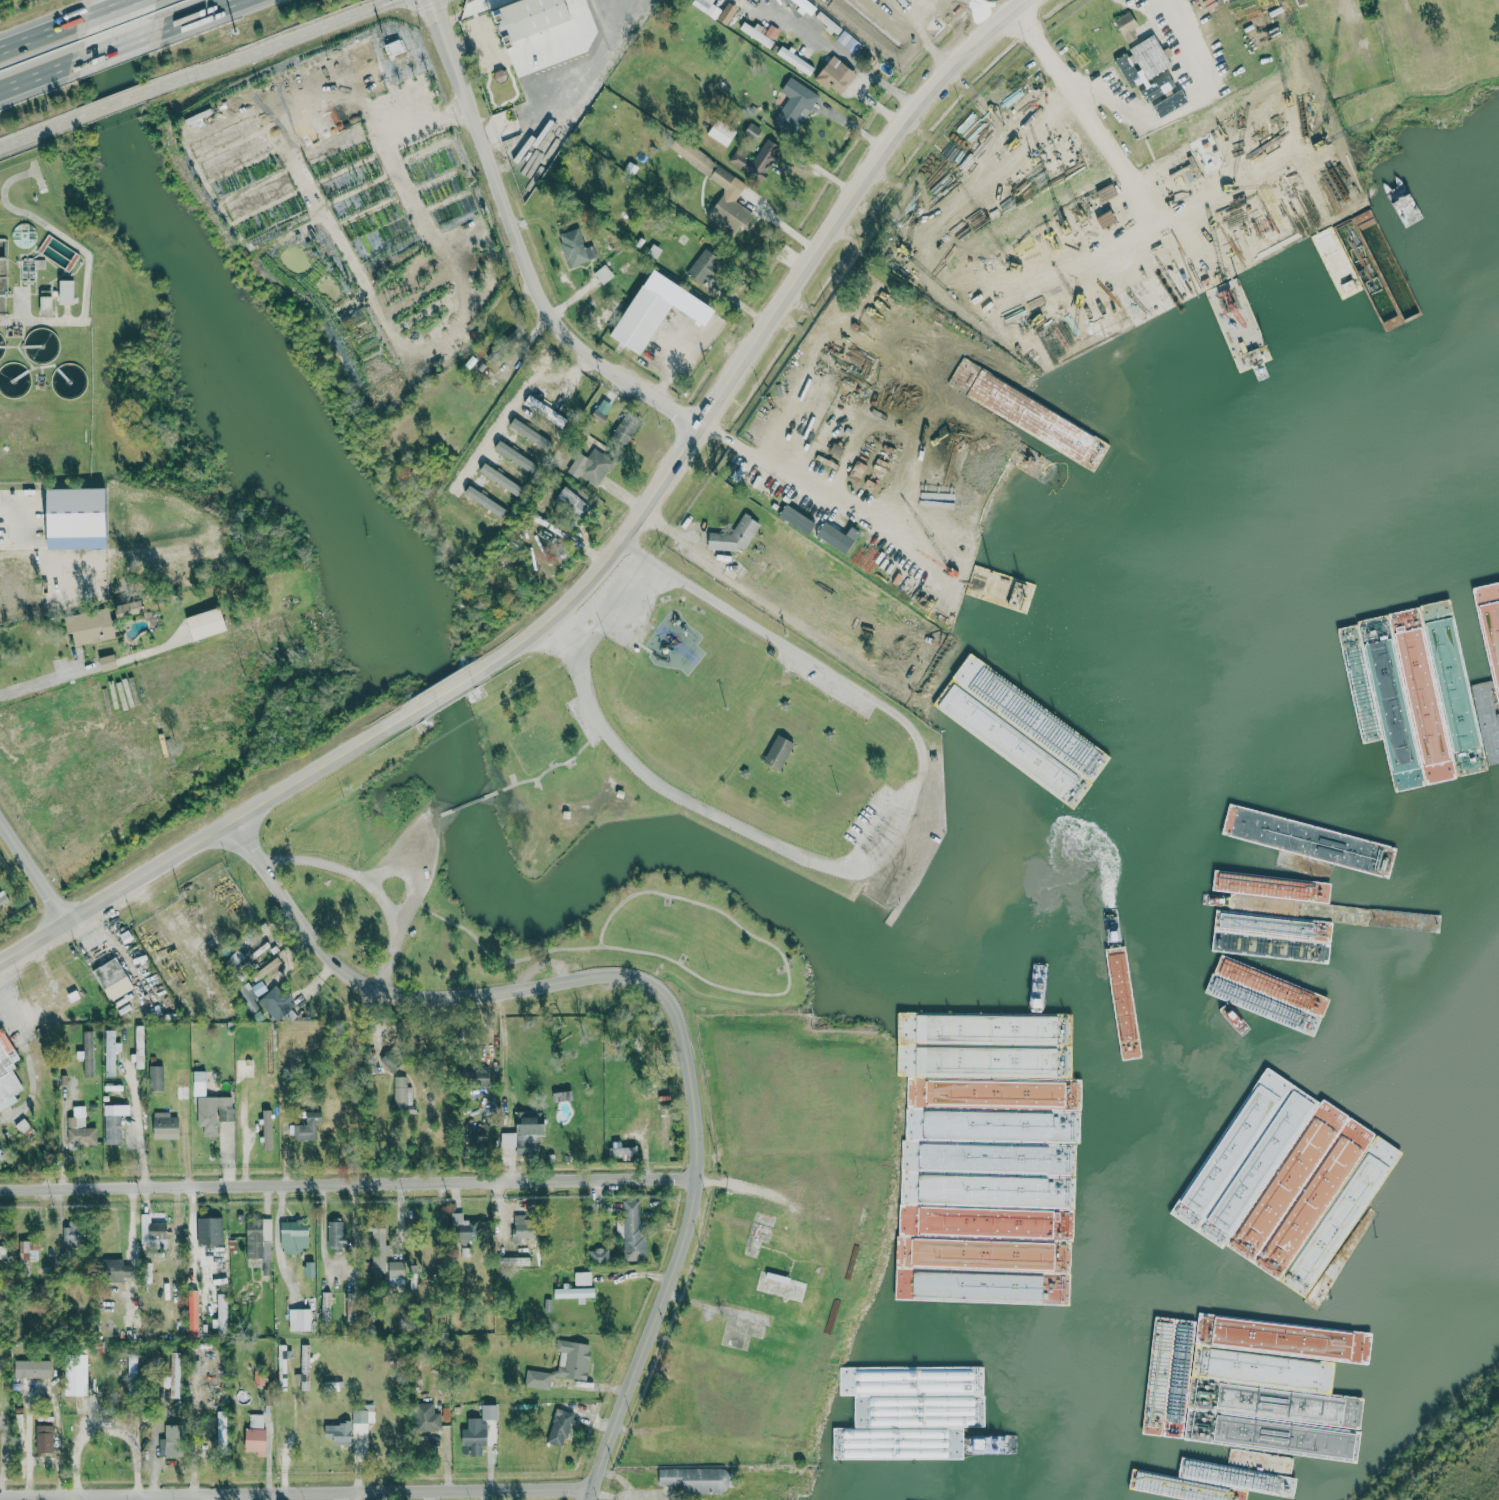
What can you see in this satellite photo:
building: (805, 6)
road: (109, 8)
building: (716, 9)
road: (193, 15)
building: (1127, 25)
road: (43, 33)
building: (760, 33)
building: (540, 34)
building: (848, 41)
road: (275, 43)
road: (116, 44)
building: (394, 46)
building: (363, 57)
road: (849, 58)
building: (795, 60)
building: (1143, 62)
road: (40, 72)
building: (836, 74)
building: (1157, 87)
building: (1162, 97)
road: (118, 101)
road: (873, 102)
building: (1170, 103)
building: (795, 106)
road: (1138, 114)
building: (753, 130)
road: (39, 131)
building: (721, 132)
road: (1109, 138)
building: (1208, 155)
building: (758, 159)
building: (734, 183)
road: (784, 226)
road: (525, 246)
building: (574, 247)
building: (704, 266)
building: (603, 273)
building: (67, 291)
building: (670, 295)
building: (47, 305)
building: (641, 319)
road: (763, 338)
building: (539, 391)
road: (518, 404)
building: (602, 410)
building: (626, 428)
building: (508, 447)
building: (591, 466)
road: (801, 481)
building: (575, 502)
building: (77, 512)
building: (797, 519)
road: (22, 534)
building: (735, 535)
building: (836, 536)
road: (606, 600)
building: (129, 608)
building: (206, 623)
building: (92, 626)
building: (108, 662)
road: (40, 678)
road: (453, 688)
building: (778, 752)
road: (540, 776)
park: (673, 776)
road: (467, 801)
road: (442, 811)
road: (210, 835)
road: (894, 842)
road: (32, 874)
road: (369, 878)
building: (3, 898)
building: (268, 968)
building: (112, 979)
building: (251, 994)
road: (674, 996)
building: (276, 1003)
building: (982, 1030)
building: (110, 1052)
building: (87, 1053)
building: (389, 1061)
building: (7, 1071)
building: (477, 1076)
building: (156, 1078)
building: (199, 1083)
building: (401, 1096)
building: (214, 1113)
road: (137, 1120)
building: (114, 1123)
building: (530, 1123)
building: (165, 1126)
building: (307, 1128)
building: (80, 1129)
building: (267, 1129)
building: (663, 1131)
building: (508, 1139)
building: (480, 1143)
building: (622, 1152)
road: (353, 1180)
building: (465, 1227)
building: (522, 1227)
building: (632, 1230)
building: (209, 1231)
building: (337, 1234)
building: (74, 1235)
building: (153, 1235)
building: (294, 1236)
road: (191, 1237)
building: (258, 1239)
building: (379, 1249)
building: (29, 1251)
building: (599, 1256)
building: (1319, 1260)
building: (219, 1268)
building: (309, 1269)
building: (119, 1272)
building: (396, 1273)
building: (583, 1278)
building: (575, 1292)
building: (325, 1306)
building: (351, 1306)
building: (299, 1320)
building: (563, 1364)
building: (34, 1368)
building: (304, 1368)
building: (76, 1374)
building: (174, 1375)
building: (490, 1411)
building: (427, 1417)
building: (362, 1418)
building: (562, 1426)
building: (221, 1427)
building: (256, 1432)
building: (339, 1432)
building: (1227, 1432)
building: (475, 1434)
building: (44, 1438)
building: (171, 1441)
building: (882, 1442)
landfill: (1434, 1448)
building: (696, 1479)
road: (300, 1490)

